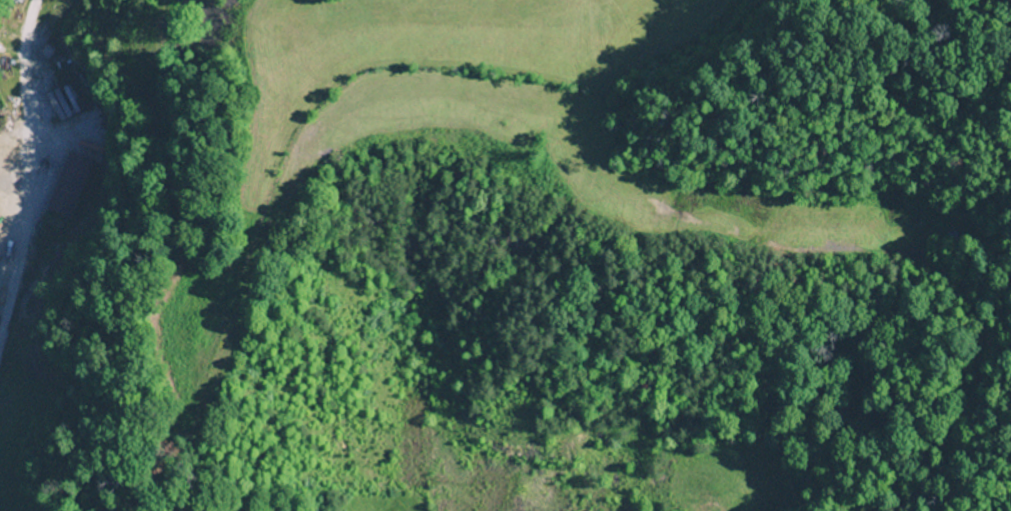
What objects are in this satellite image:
building: (62, 102)

